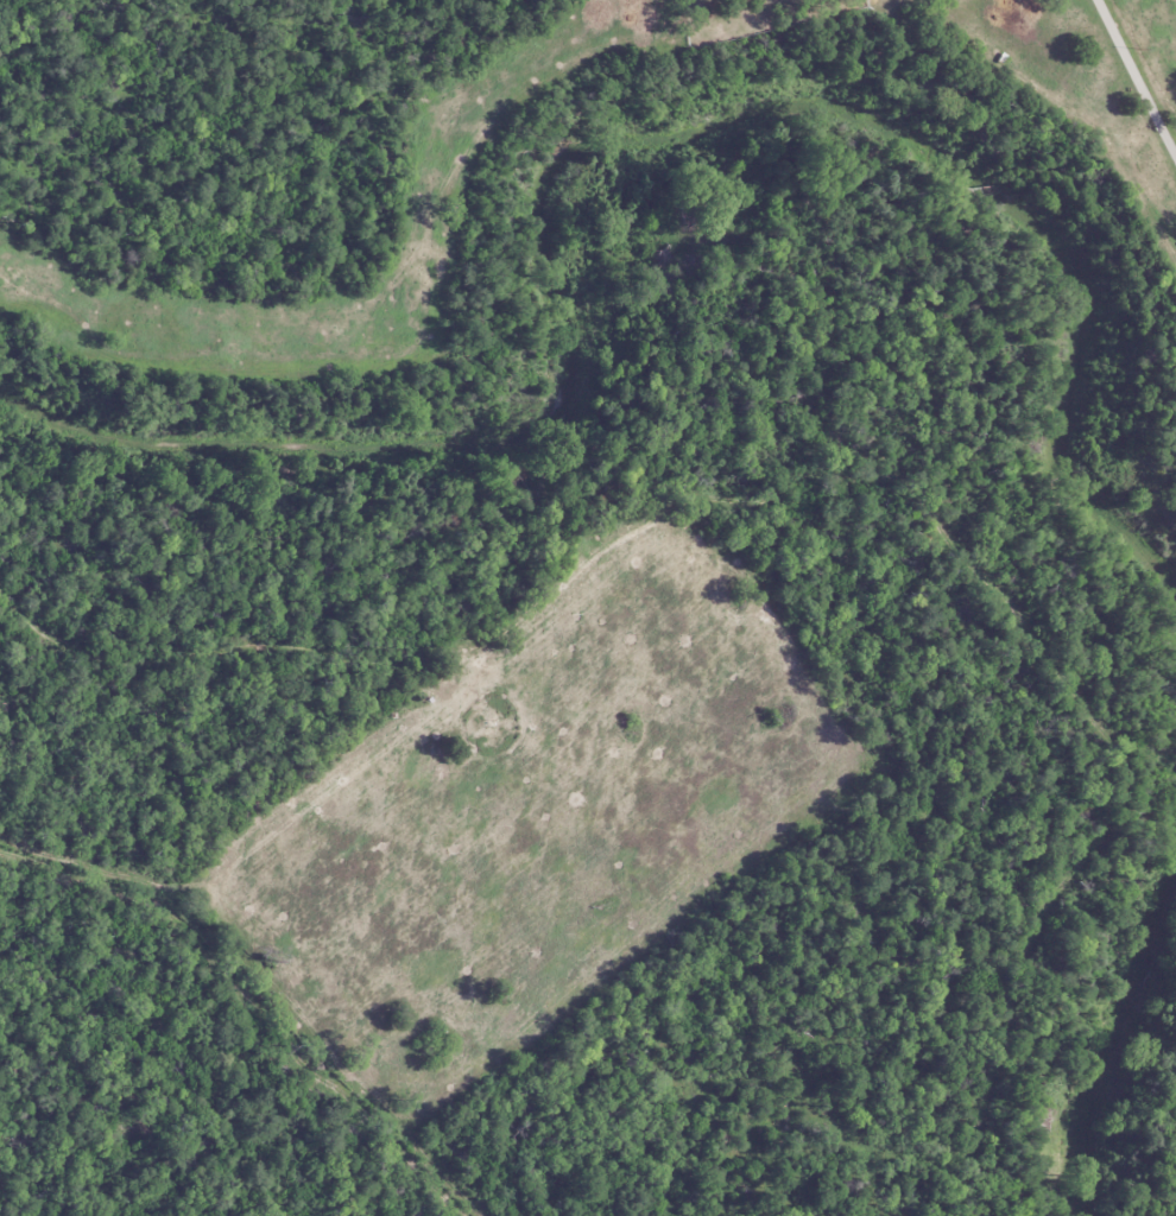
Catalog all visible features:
road: (1143, 55)
river: (608, 138)
river: (1120, 1045)

